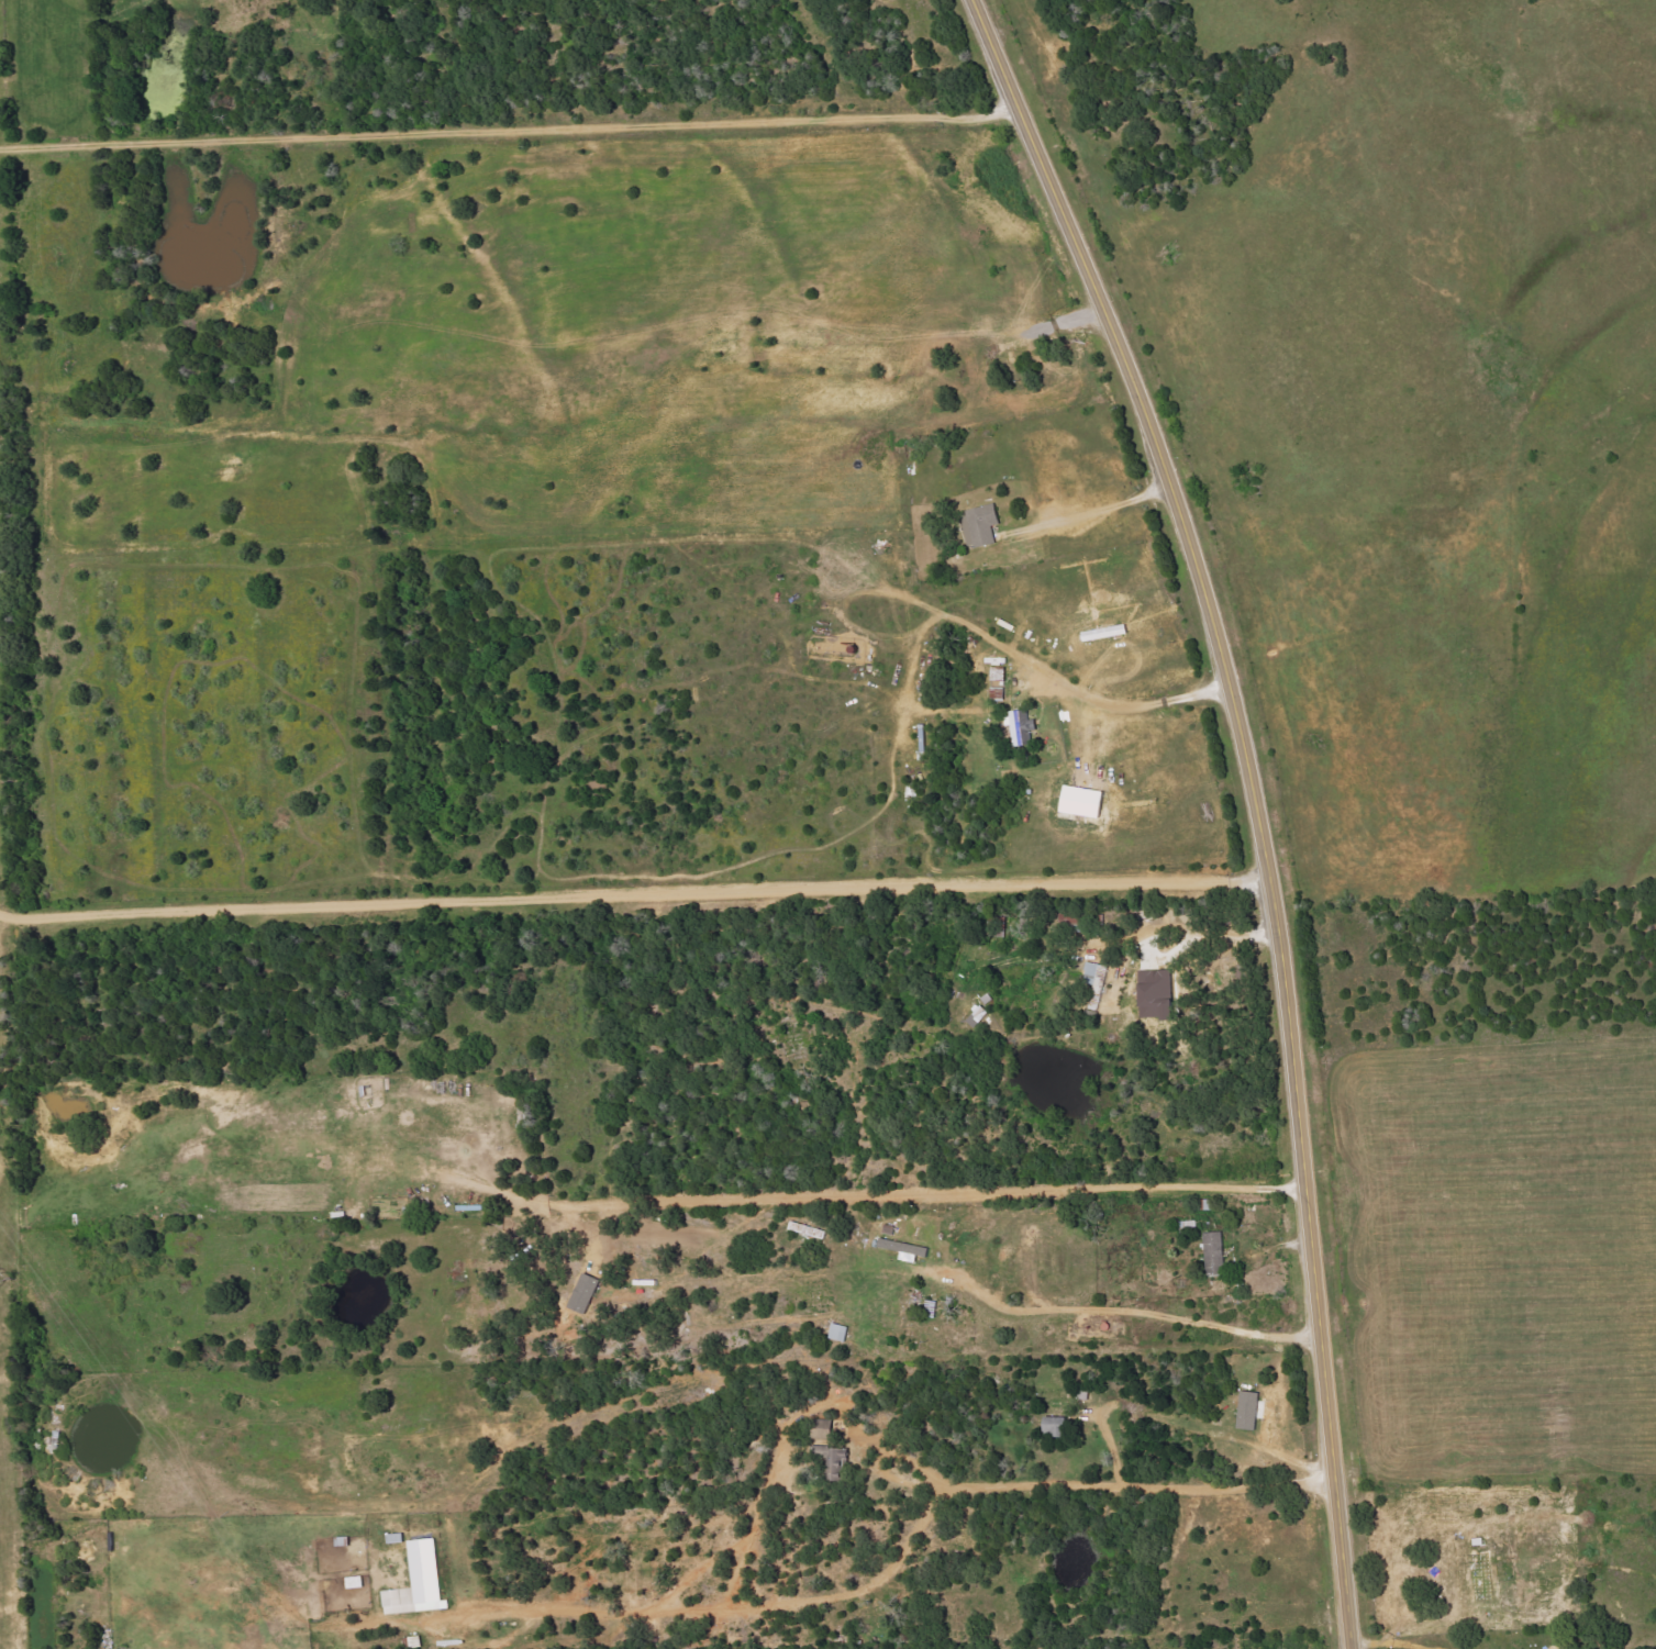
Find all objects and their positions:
road: (509, 130)
road: (1091, 508)
building: (980, 524)
road: (978, 627)
building: (1022, 727)
building: (1085, 801)
road: (1254, 802)
road: (633, 872)
road: (1190, 929)
building: (1096, 978)
building: (1157, 994)
road: (903, 1201)
building: (1214, 1250)
building: (585, 1292)
road: (1130, 1313)
building: (838, 1332)
building: (1249, 1410)
building: (1057, 1425)
road: (900, 1547)
building: (420, 1582)
road: (1387, 1642)

